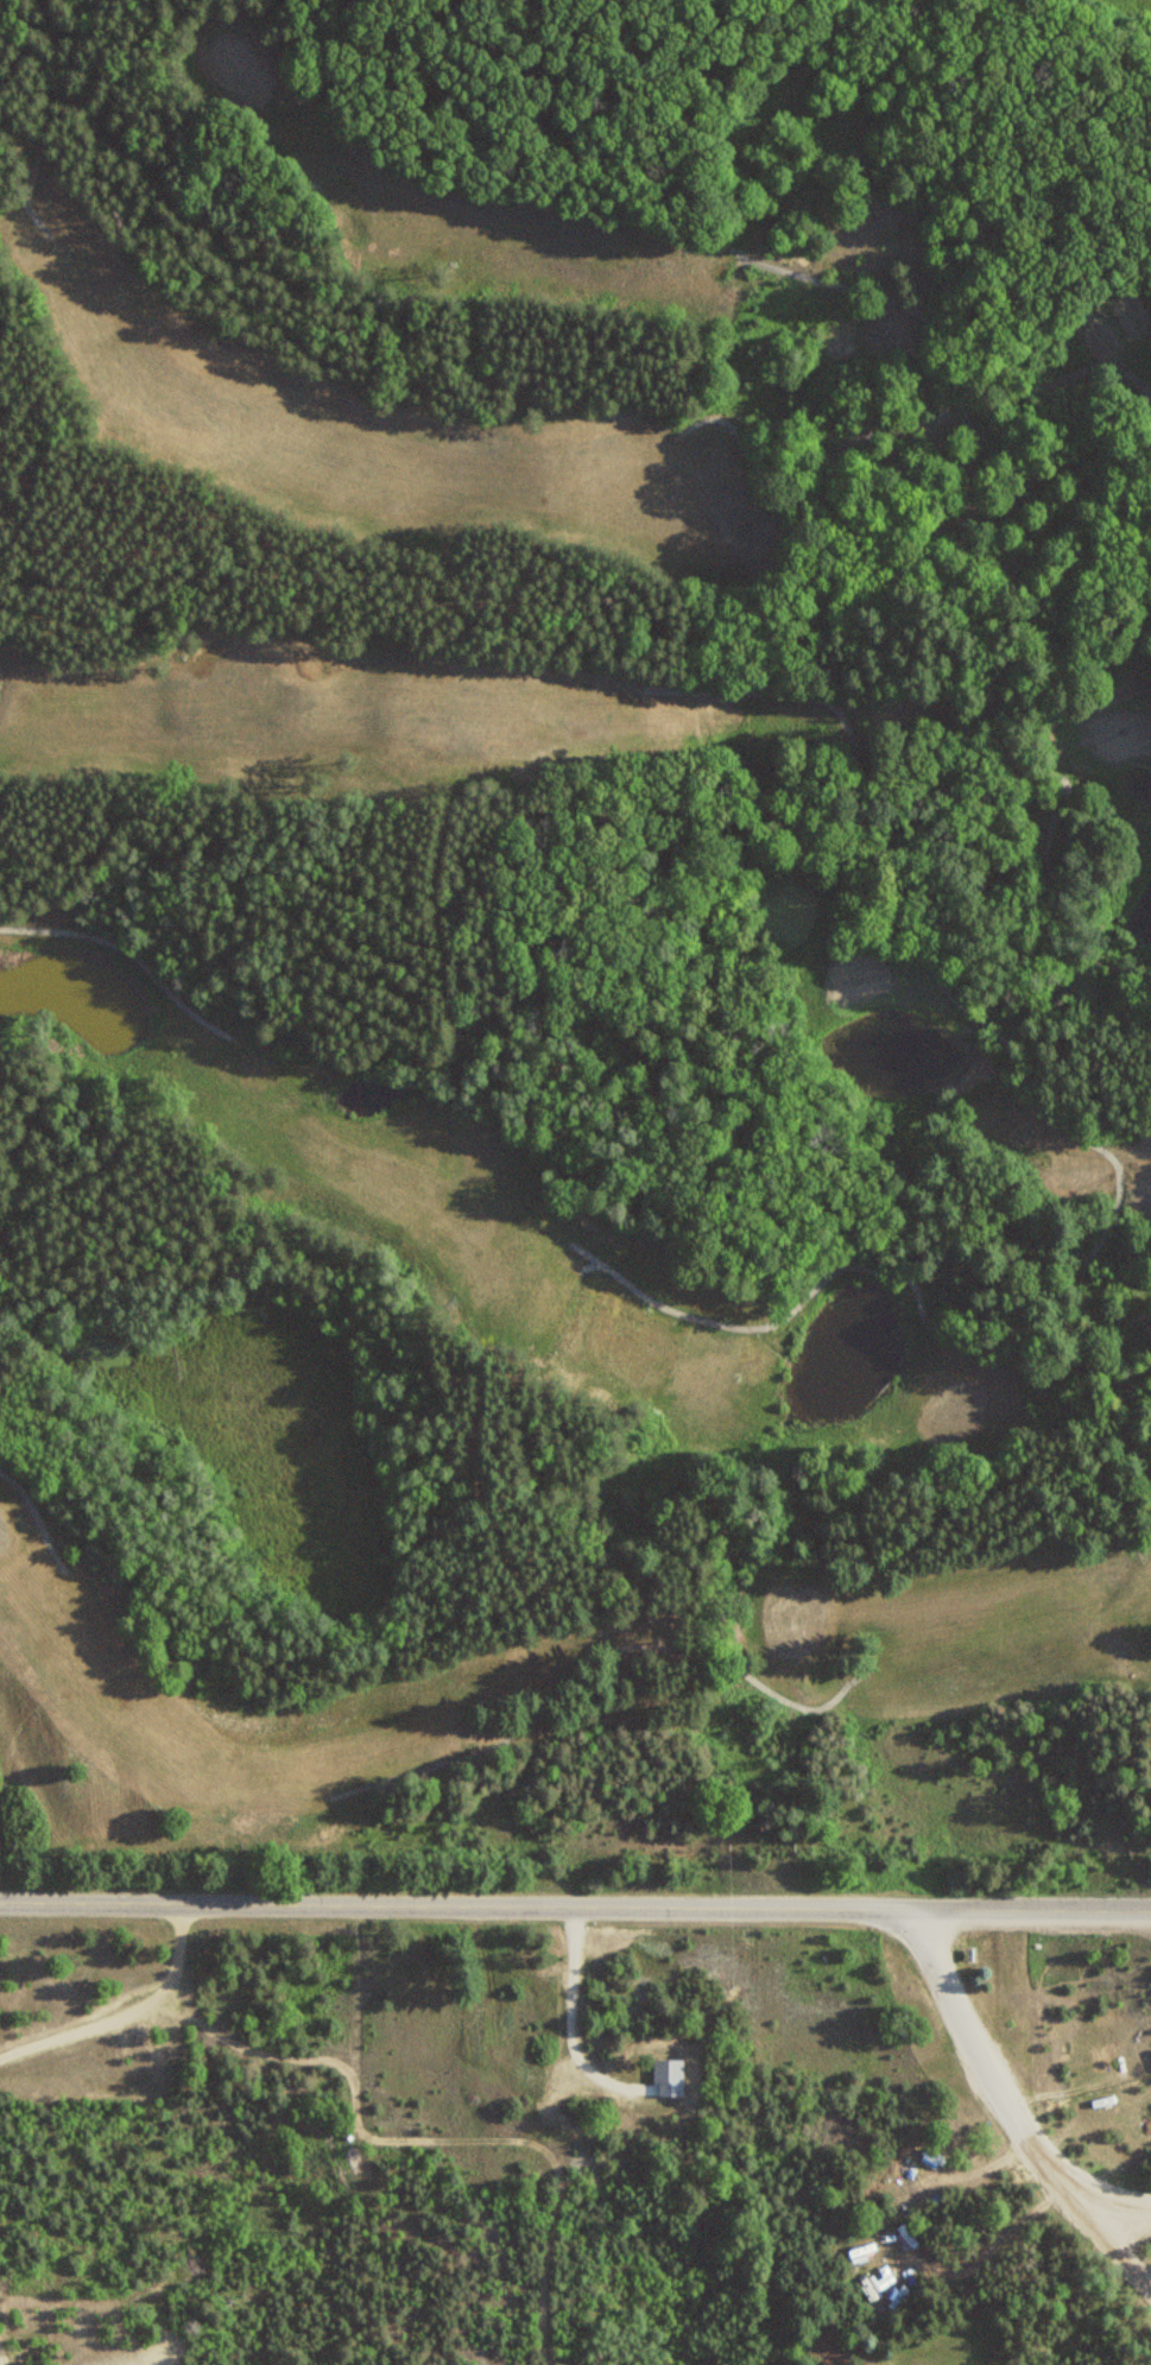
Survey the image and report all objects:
park: (575, 932)
building: (888, 1130)
road: (575, 1903)
road: (991, 2069)
road: (1122, 2211)
road: (1119, 2251)

